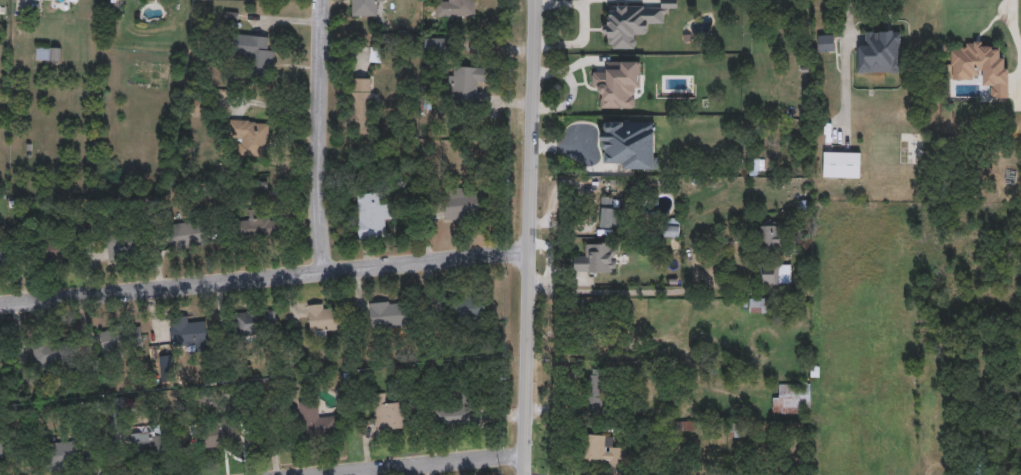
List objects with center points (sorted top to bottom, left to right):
building: (363, 7)
building: (455, 8)
road: (850, 12)
road: (1011, 19)
building: (632, 22)
building: (826, 42)
building: (434, 44)
building: (879, 51)
building: (255, 52)
building: (48, 53)
building: (618, 83)
building: (465, 84)
building: (360, 103)
road: (317, 134)
building: (250, 137)
building: (629, 143)
building: (911, 147)
building: (842, 165)
building: (462, 204)
building: (610, 212)
building: (372, 214)
building: (258, 226)
building: (672, 227)
building: (187, 234)
road: (528, 237)
building: (769, 237)
building: (125, 247)
building: (58, 250)
building: (2, 255)
building: (595, 258)
building: (776, 273)
road: (263, 275)
road: (623, 294)
building: (758, 305)
building: (462, 307)
building: (388, 314)
building: (322, 319)
building: (255, 322)
building: (189, 334)
building: (123, 338)
building: (48, 355)
building: (597, 391)
building: (791, 398)
building: (451, 411)
building: (390, 414)
building: (315, 420)
building: (221, 433)
building: (150, 445)
building: (1, 447)
building: (602, 450)
building: (62, 455)
road: (414, 464)

